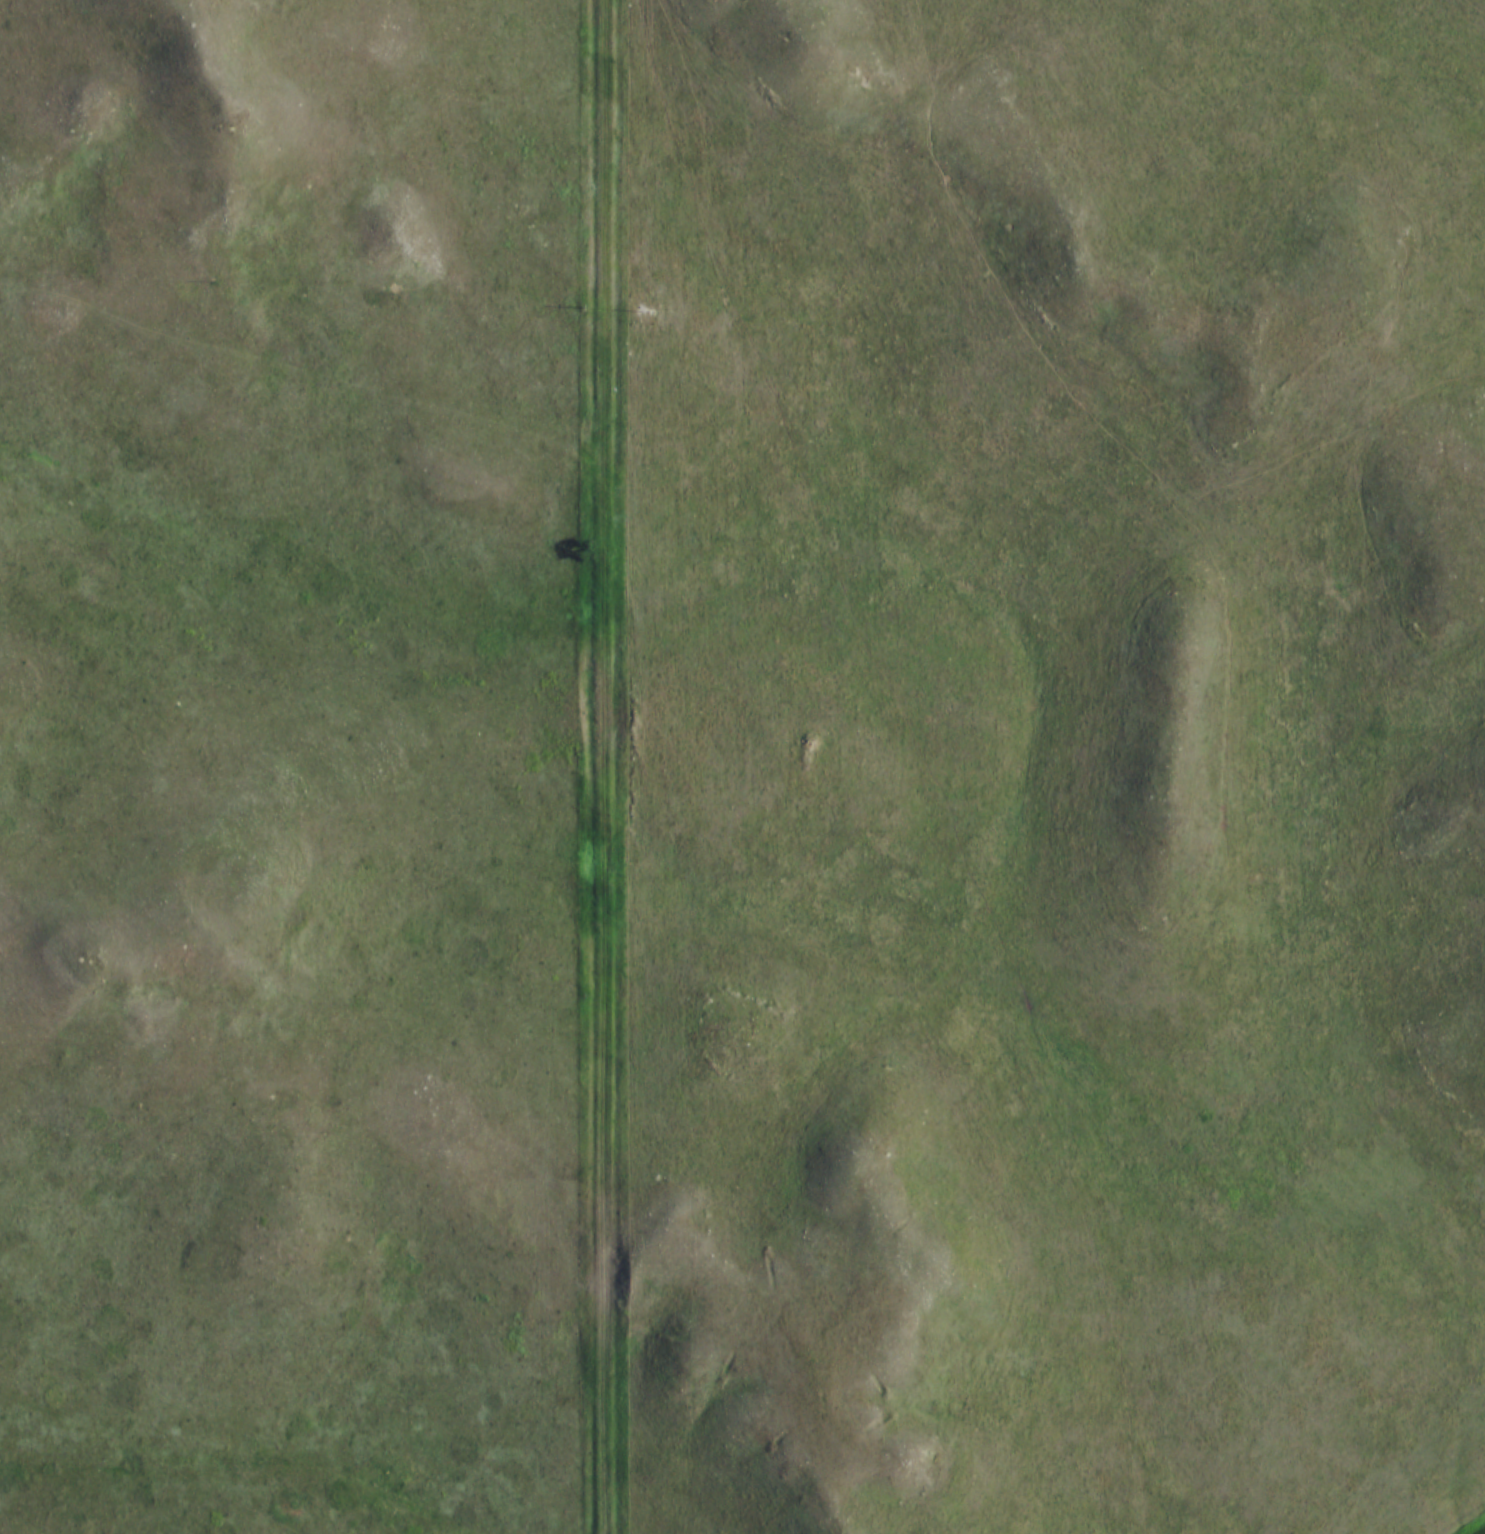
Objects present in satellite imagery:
road: (609, 766)
road: (1047, 853)

